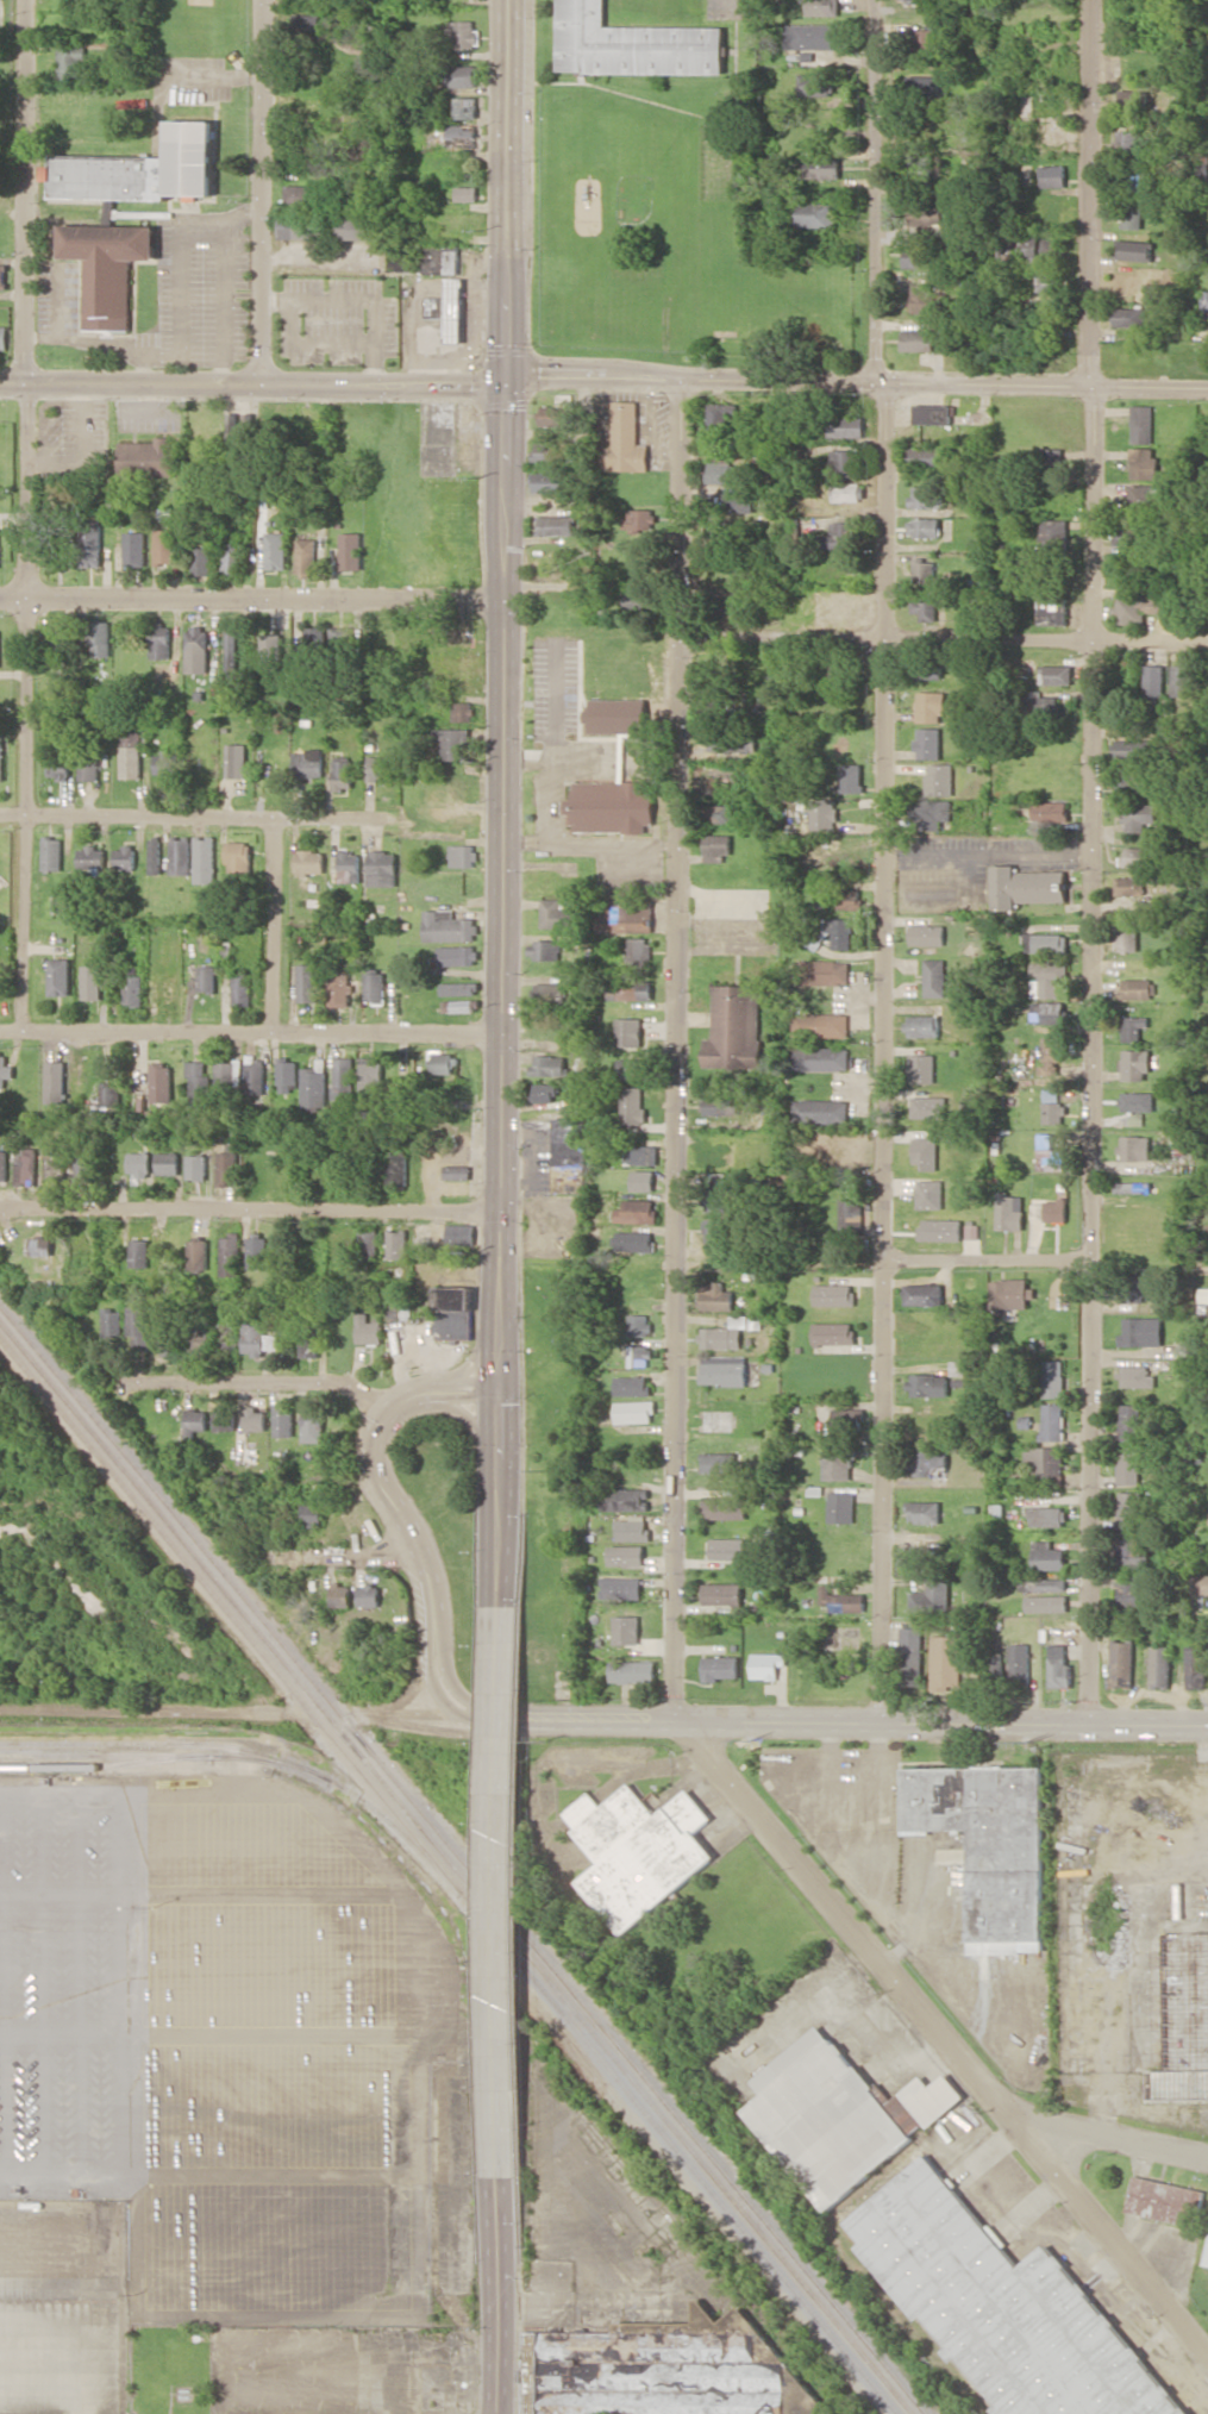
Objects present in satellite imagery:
building: (918, 1)
building: (822, 7)
building: (306, 20)
building: (464, 33)
building: (809, 36)
building: (633, 43)
building: (70, 62)
building: (459, 76)
building: (815, 83)
building: (1132, 99)
building: (465, 107)
building: (463, 136)
building: (1128, 142)
building: (820, 167)
building: (143, 169)
building: (1052, 175)
building: (1132, 179)
road: (875, 190)
road: (507, 192)
road: (262, 193)
building: (467, 193)
building: (308, 194)
road: (1089, 194)
building: (815, 214)
building: (1131, 215)
building: (303, 226)
building: (358, 226)
building: (1133, 249)
building: (914, 254)
building: (439, 258)
building: (1040, 261)
building: (108, 268)
building: (2, 275)
building: (926, 299)
building: (449, 308)
building: (1128, 317)
building: (4, 337)
building: (916, 339)
road: (857, 381)
road: (252, 384)
building: (932, 413)
building: (555, 415)
building: (719, 417)
building: (1140, 423)
building: (845, 426)
building: (624, 440)
building: (547, 450)
building: (148, 456)
building: (924, 457)
building: (1051, 461)
building: (844, 462)
building: (1141, 462)
building: (719, 468)
building: (547, 481)
building: (845, 490)
building: (922, 496)
building: (1146, 498)
building: (739, 501)
road: (27, 514)
building: (634, 518)
building: (557, 525)
building: (922, 526)
building: (835, 533)
building: (1051, 533)
building: (1123, 533)
building: (92, 544)
building: (165, 545)
building: (136, 549)
building: (275, 550)
building: (350, 550)
building: (305, 555)
building: (232, 558)
building: (201, 559)
building: (922, 569)
building: (636, 599)
road: (250, 602)
building: (922, 605)
building: (1138, 607)
building: (1052, 609)
building: (313, 632)
building: (99, 637)
building: (340, 638)
building: (161, 640)
road: (944, 640)
building: (57, 645)
building: (196, 649)
building: (230, 649)
building: (270, 650)
building: (928, 670)
building: (1056, 674)
building: (1154, 680)
building: (1181, 680)
building: (930, 706)
building: (1039, 707)
building: (462, 711)
building: (618, 715)
building: (449, 742)
building: (927, 742)
building: (732, 743)
building: (1126, 750)
building: (130, 753)
building: (1, 759)
building: (236, 759)
building: (57, 761)
building: (167, 762)
building: (308, 762)
building: (88, 765)
building: (378, 767)
building: (342, 774)
building: (851, 777)
building: (939, 778)
building: (1128, 782)
building: (612, 806)
building: (1050, 811)
building: (930, 812)
building: (721, 813)
building: (822, 813)
road: (201, 815)
building: (1139, 815)
building: (718, 846)
building: (51, 852)
building: (154, 853)
building: (180, 853)
building: (463, 855)
building: (89, 856)
building: (124, 856)
building: (237, 856)
building: (1137, 856)
building: (204, 858)
building: (348, 865)
building: (381, 868)
building: (1027, 886)
building: (1131, 886)
road: (501, 888)
building: (849, 898)
building: (61, 902)
building: (557, 913)
building: (626, 915)
road: (274, 925)
building: (446, 926)
building: (841, 931)
building: (927, 934)
building: (1127, 936)
building: (1045, 942)
building: (544, 949)
building: (638, 951)
building: (457, 955)
building: (824, 971)
building: (58, 976)
building: (206, 977)
building: (934, 977)
building: (1050, 978)
building: (90, 981)
building: (306, 982)
building: (132, 986)
building: (374, 986)
building: (339, 988)
building: (458, 988)
building: (1138, 988)
building: (240, 989)
building: (632, 989)
building: (549, 992)
building: (457, 1005)
building: (1049, 1012)
building: (820, 1024)
building: (924, 1025)
building: (736, 1026)
building: (1133, 1027)
building: (628, 1031)
road: (250, 1032)
road: (678, 1050)
road: (883, 1053)
building: (1051, 1055)
road: (1090, 1056)
building: (820, 1057)
building: (442, 1062)
building: (549, 1064)
building: (1134, 1064)
building: (628, 1068)
building: (921, 1068)
building: (2, 1070)
building: (229, 1072)
building: (286, 1075)
building: (254, 1076)
building: (342, 1077)
building: (369, 1078)
building: (55, 1081)
building: (161, 1082)
building: (198, 1082)
building: (313, 1084)
building: (544, 1092)
building: (109, 1095)
building: (1135, 1100)
building: (721, 1103)
building: (632, 1105)
building: (930, 1106)
building: (820, 1111)
building: (1052, 1112)
building: (1134, 1147)
building: (925, 1152)
building: (1049, 1153)
building: (640, 1155)
building: (139, 1163)
building: (168, 1163)
building: (4, 1164)
building: (82, 1164)
building: (227, 1164)
building: (26, 1165)
building: (56, 1167)
building: (198, 1167)
building: (395, 1170)
building: (456, 1171)
building: (641, 1180)
building: (1132, 1187)
building: (716, 1192)
building: (930, 1193)
road: (257, 1202)
building: (1054, 1209)
building: (637, 1211)
building: (1008, 1211)
building: (851, 1213)
building: (940, 1230)
building: (459, 1233)
building: (713, 1233)
building: (633, 1240)
building: (367, 1242)
building: (396, 1244)
building: (42, 1245)
building: (256, 1251)
building: (139, 1252)
building: (229, 1253)
building: (196, 1255)
road: (988, 1261)
building: (1129, 1286)
building: (1007, 1293)
building: (834, 1294)
building: (922, 1294)
building: (716, 1296)
building: (398, 1307)
building: (453, 1312)
building: (112, 1321)
building: (638, 1324)
building: (139, 1327)
building: (367, 1328)
building: (1140, 1331)
building: (833, 1332)
building: (721, 1334)
building: (199, 1338)
building: (256, 1338)
building: (163, 1340)
building: (308, 1343)
building: (638, 1356)
road: (465, 1367)
building: (954, 1368)
building: (724, 1369)
building: (1134, 1376)
building: (1051, 1378)
road: (263, 1383)
building: (631, 1384)
building: (927, 1384)
building: (634, 1411)
building: (224, 1413)
building: (254, 1419)
building: (844, 1419)
building: (282, 1420)
building: (194, 1421)
road: (475, 1421)
building: (1051, 1421)
building: (1128, 1421)
building: (312, 1422)
building: (719, 1462)
building: (930, 1462)
building: (1045, 1462)
building: (837, 1463)
building: (1127, 1464)
road: (369, 1465)
building: (626, 1499)
road: (500, 1500)
building: (841, 1506)
building: (725, 1507)
building: (1128, 1509)
building: (924, 1511)
building: (311, 1514)
building: (1046, 1515)
building: (632, 1528)
building: (726, 1547)
building: (1134, 1551)
building: (626, 1555)
building: (1047, 1556)
road: (343, 1557)
building: (1202, 1583)
building: (1043, 1584)
building: (621, 1587)
building: (1128, 1590)
building: (722, 1593)
building: (339, 1594)
building: (368, 1595)
building: (932, 1596)
building: (843, 1600)
building: (1046, 1602)
railway: (237, 1628)
building: (626, 1628)
building: (910, 1656)
building: (947, 1661)
building: (1020, 1662)
building: (1121, 1663)
building: (766, 1664)
building: (1160, 1665)
building: (721, 1666)
building: (1059, 1666)
building: (1196, 1666)
building: (632, 1671)
road: (431, 1672)
road: (447, 1681)
road: (411, 1690)
road: (421, 1713)
road: (139, 1714)
road: (371, 1714)
road: (478, 1714)
road: (513, 1719)
road: (868, 1726)
road: (455, 1727)
railway: (254, 1751)
railway: (165, 1755)
railway: (105, 1765)
building: (988, 1845)
building: (639, 1851)
railway: (462, 1862)
railway: (455, 1870)
road: (501, 1893)
railway: (547, 1989)
road: (945, 2027)
building: (838, 2114)
road: (1119, 2143)
railway: (686, 2163)
building: (1165, 2201)
building: (1206, 2256)
road: (496, 2296)
building: (1003, 2306)
building: (653, 2369)
building: (801, 2393)

